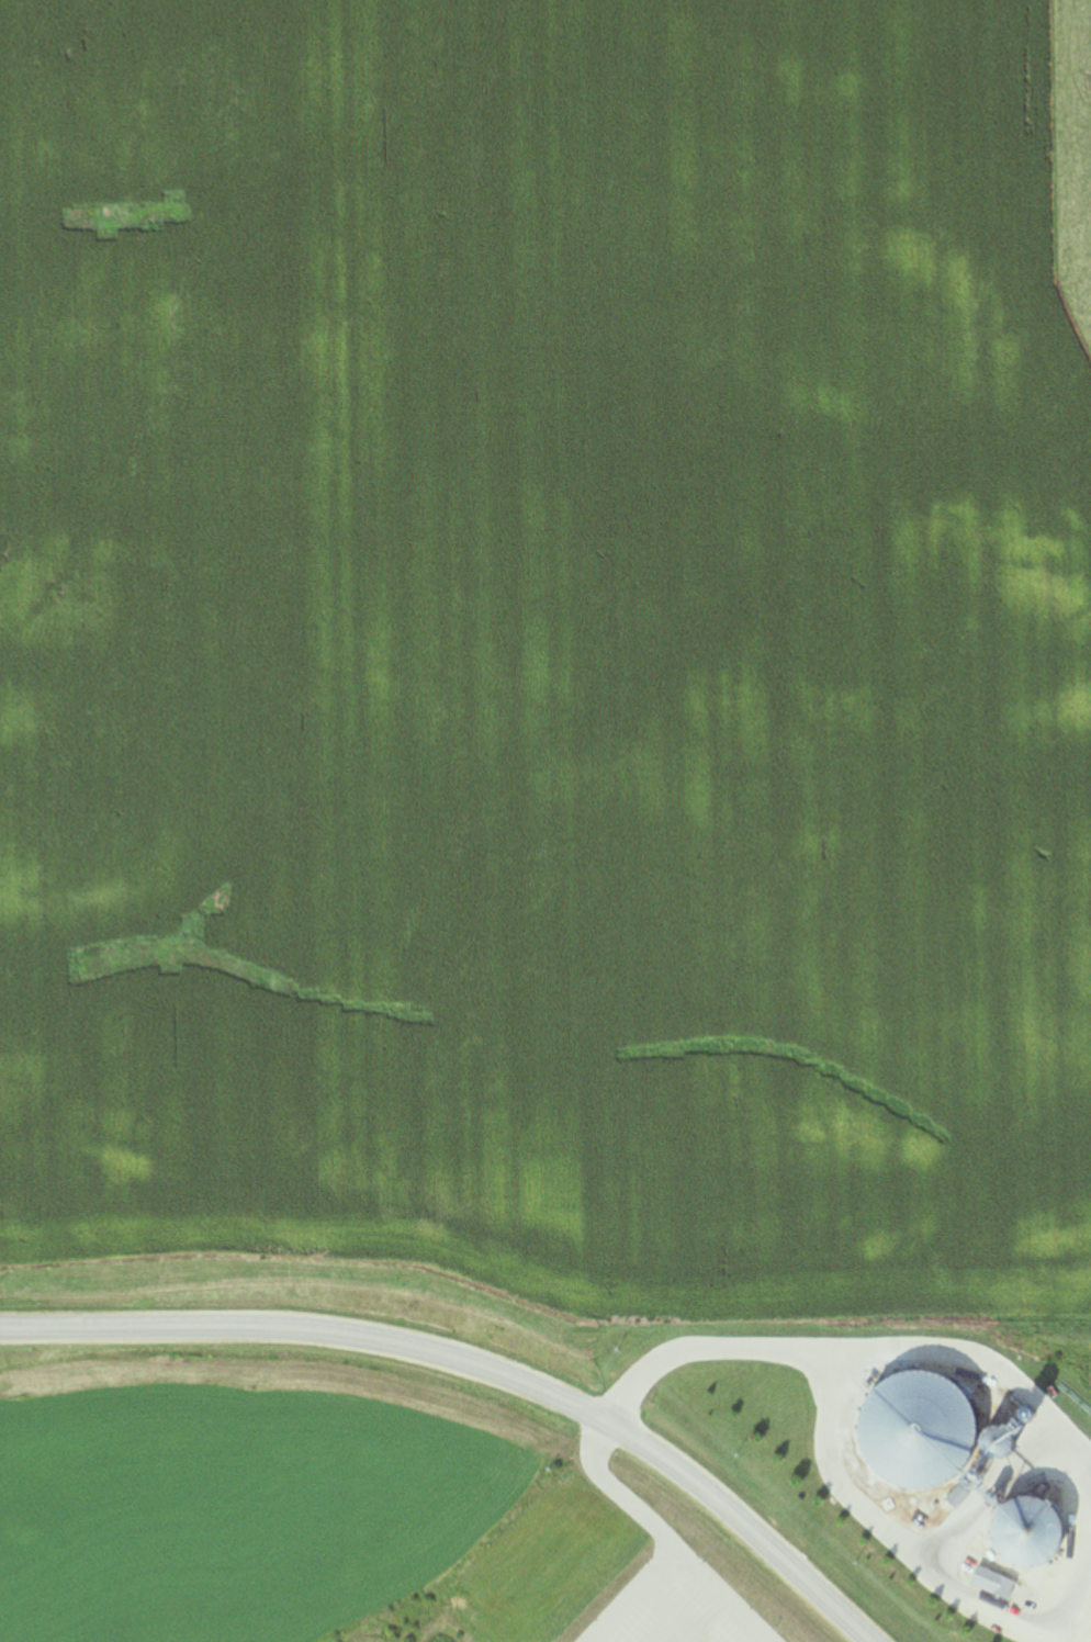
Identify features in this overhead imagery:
road: (702, 1349)
road: (978, 1353)
road: (480, 1367)
building: (1028, 1418)
building: (918, 1432)
building: (998, 1446)
road: (993, 1495)
building: (1027, 1536)
road: (665, 1539)
road: (909, 1553)
building: (1003, 1589)
road: (636, 1596)
road: (673, 1615)
road: (666, 1630)

